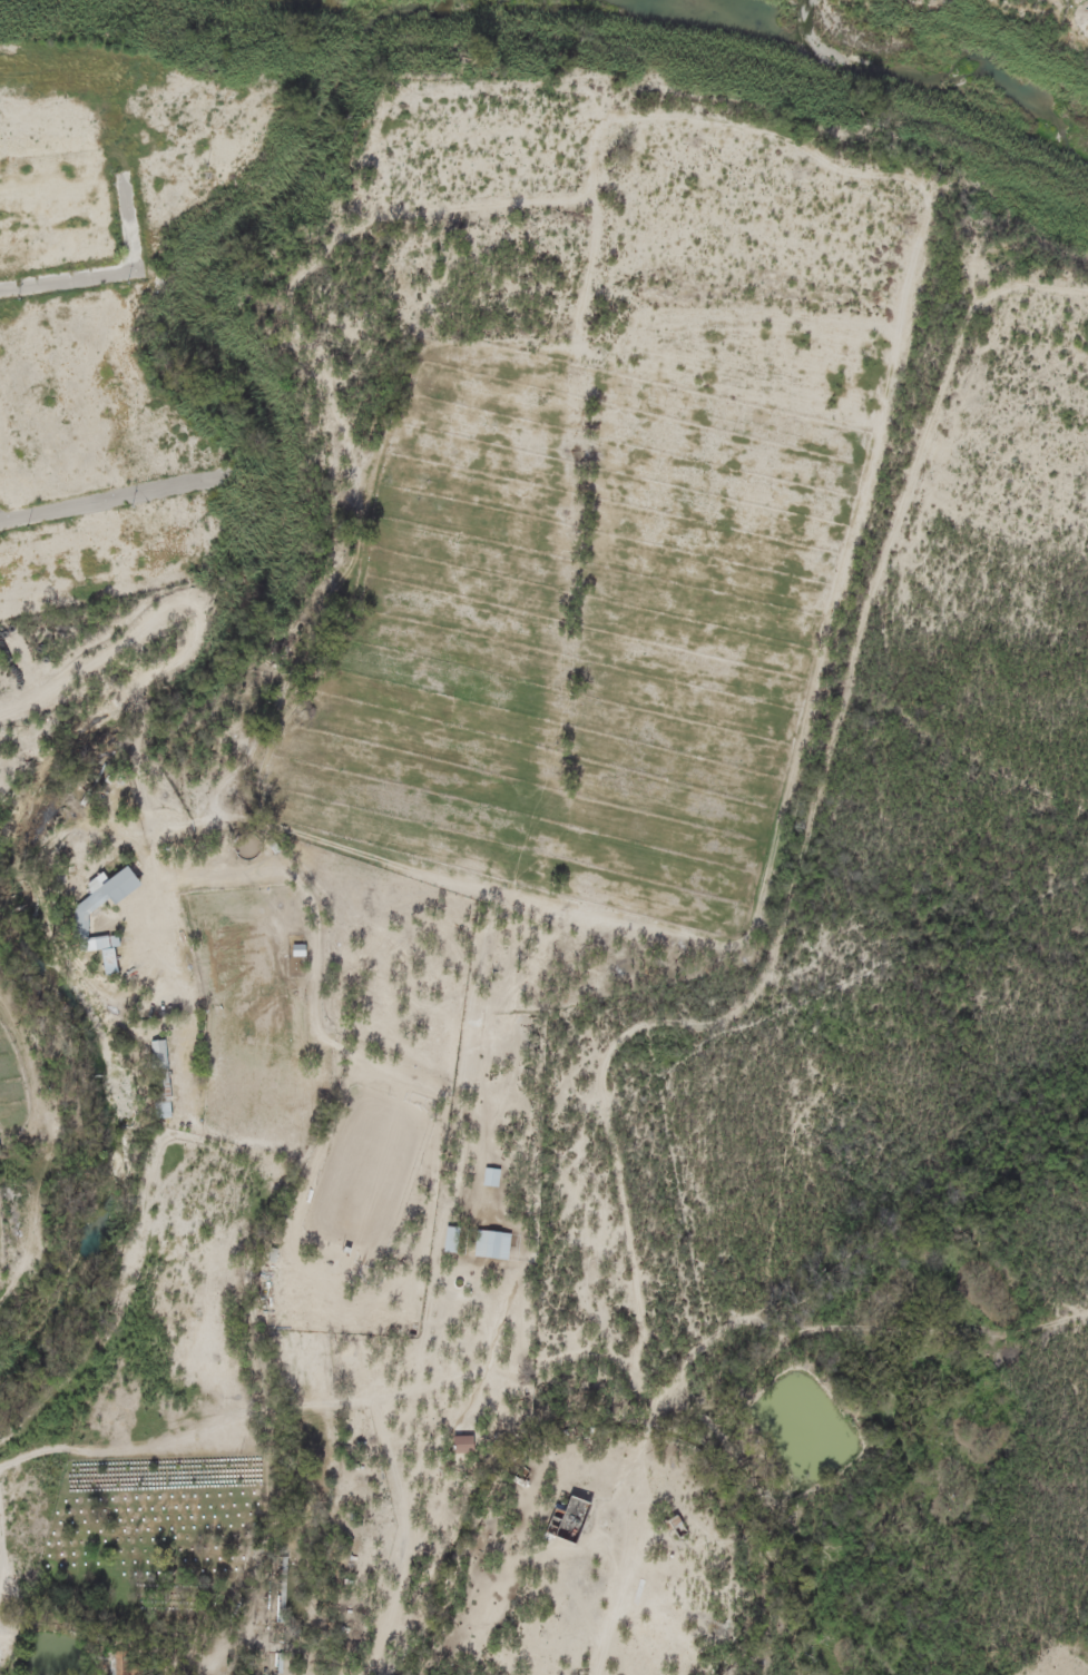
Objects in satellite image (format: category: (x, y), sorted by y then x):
river: (886, 50)

